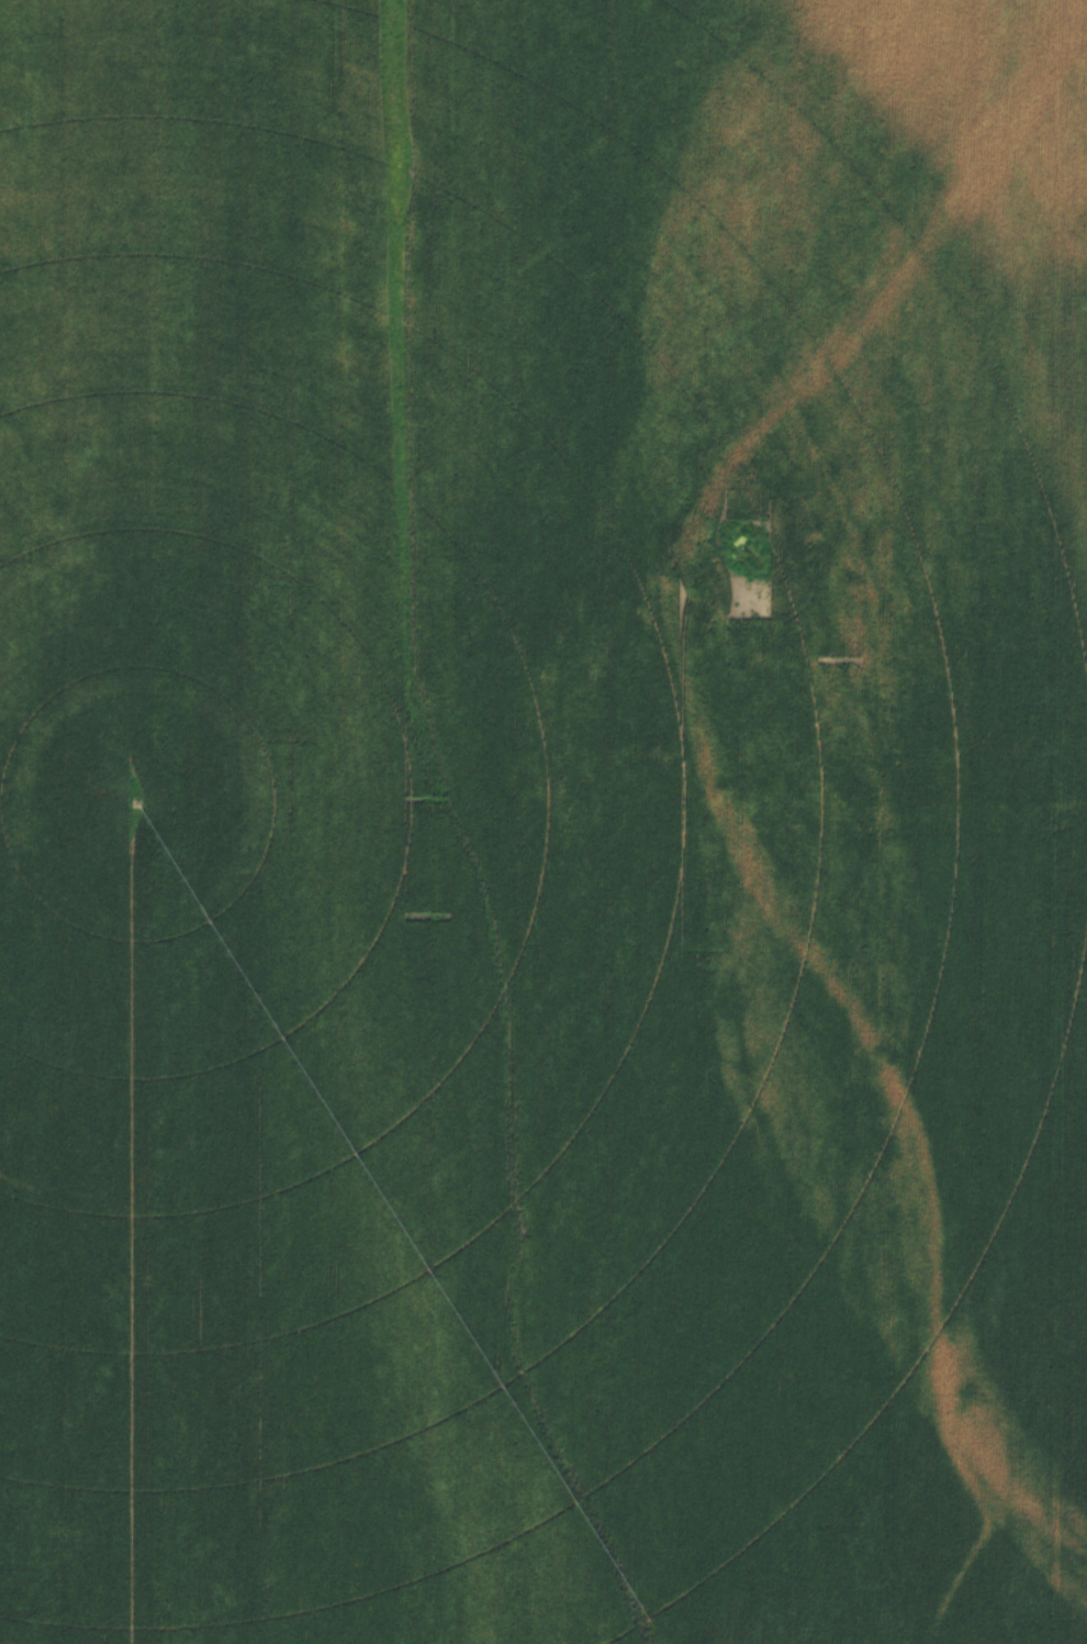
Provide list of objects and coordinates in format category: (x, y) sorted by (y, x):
building: (815, 546)
building: (844, 574)
building: (753, 652)

